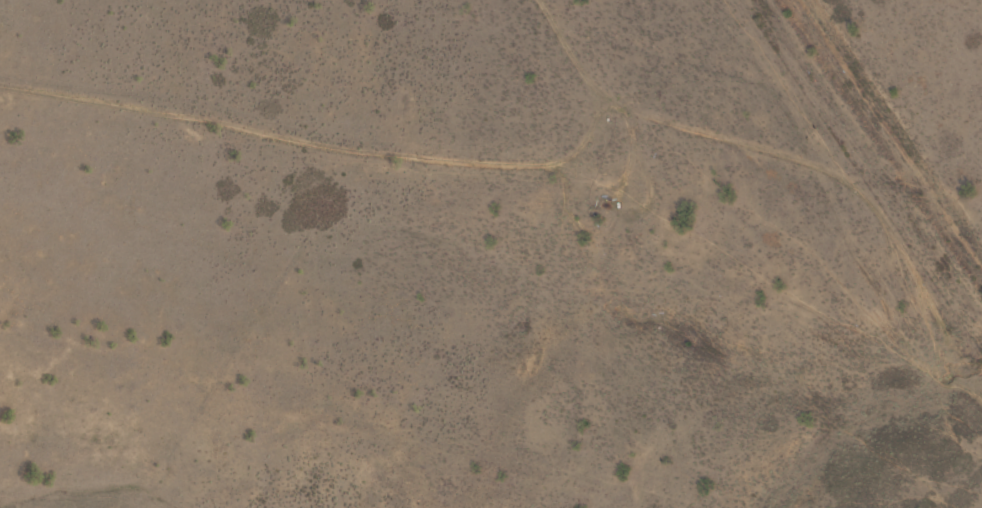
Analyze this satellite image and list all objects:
railway: (883, 145)

